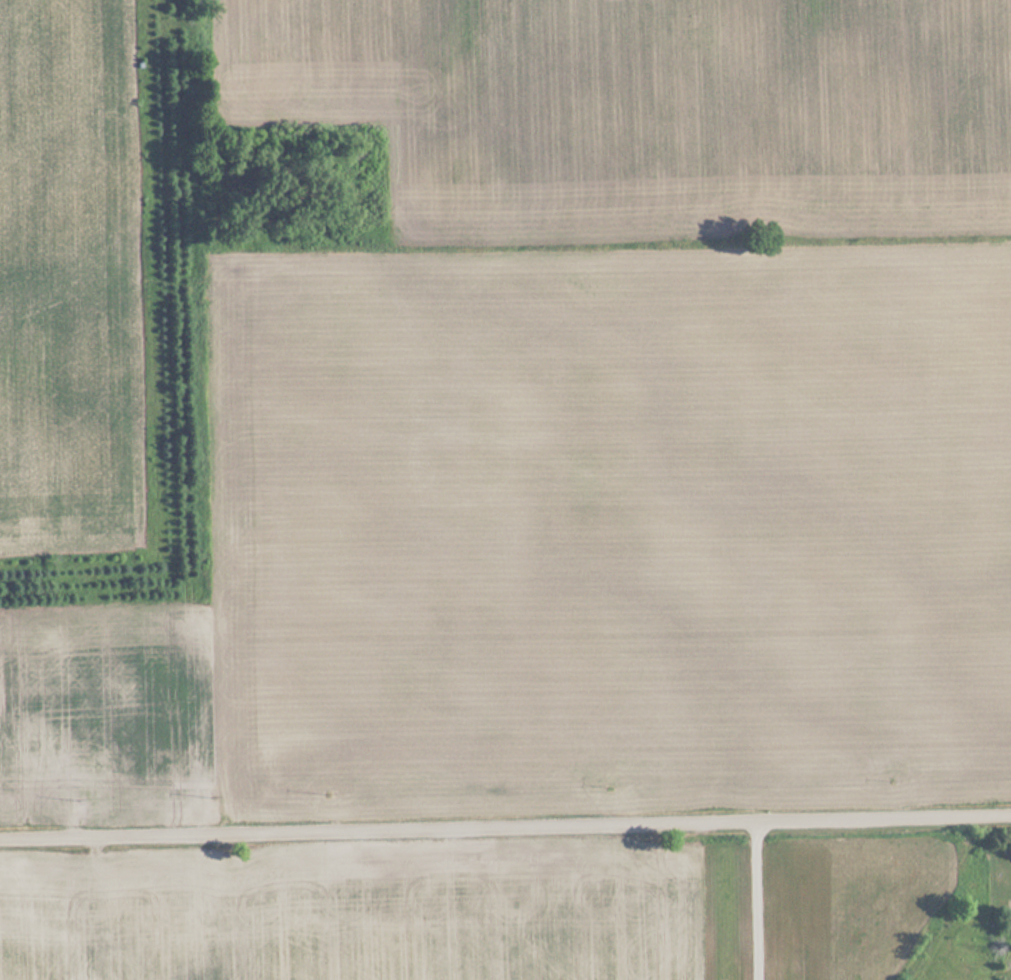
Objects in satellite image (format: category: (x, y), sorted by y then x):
building: (44, 754)
building: (165, 779)
road: (505, 829)
building: (413, 840)
road: (752, 902)

